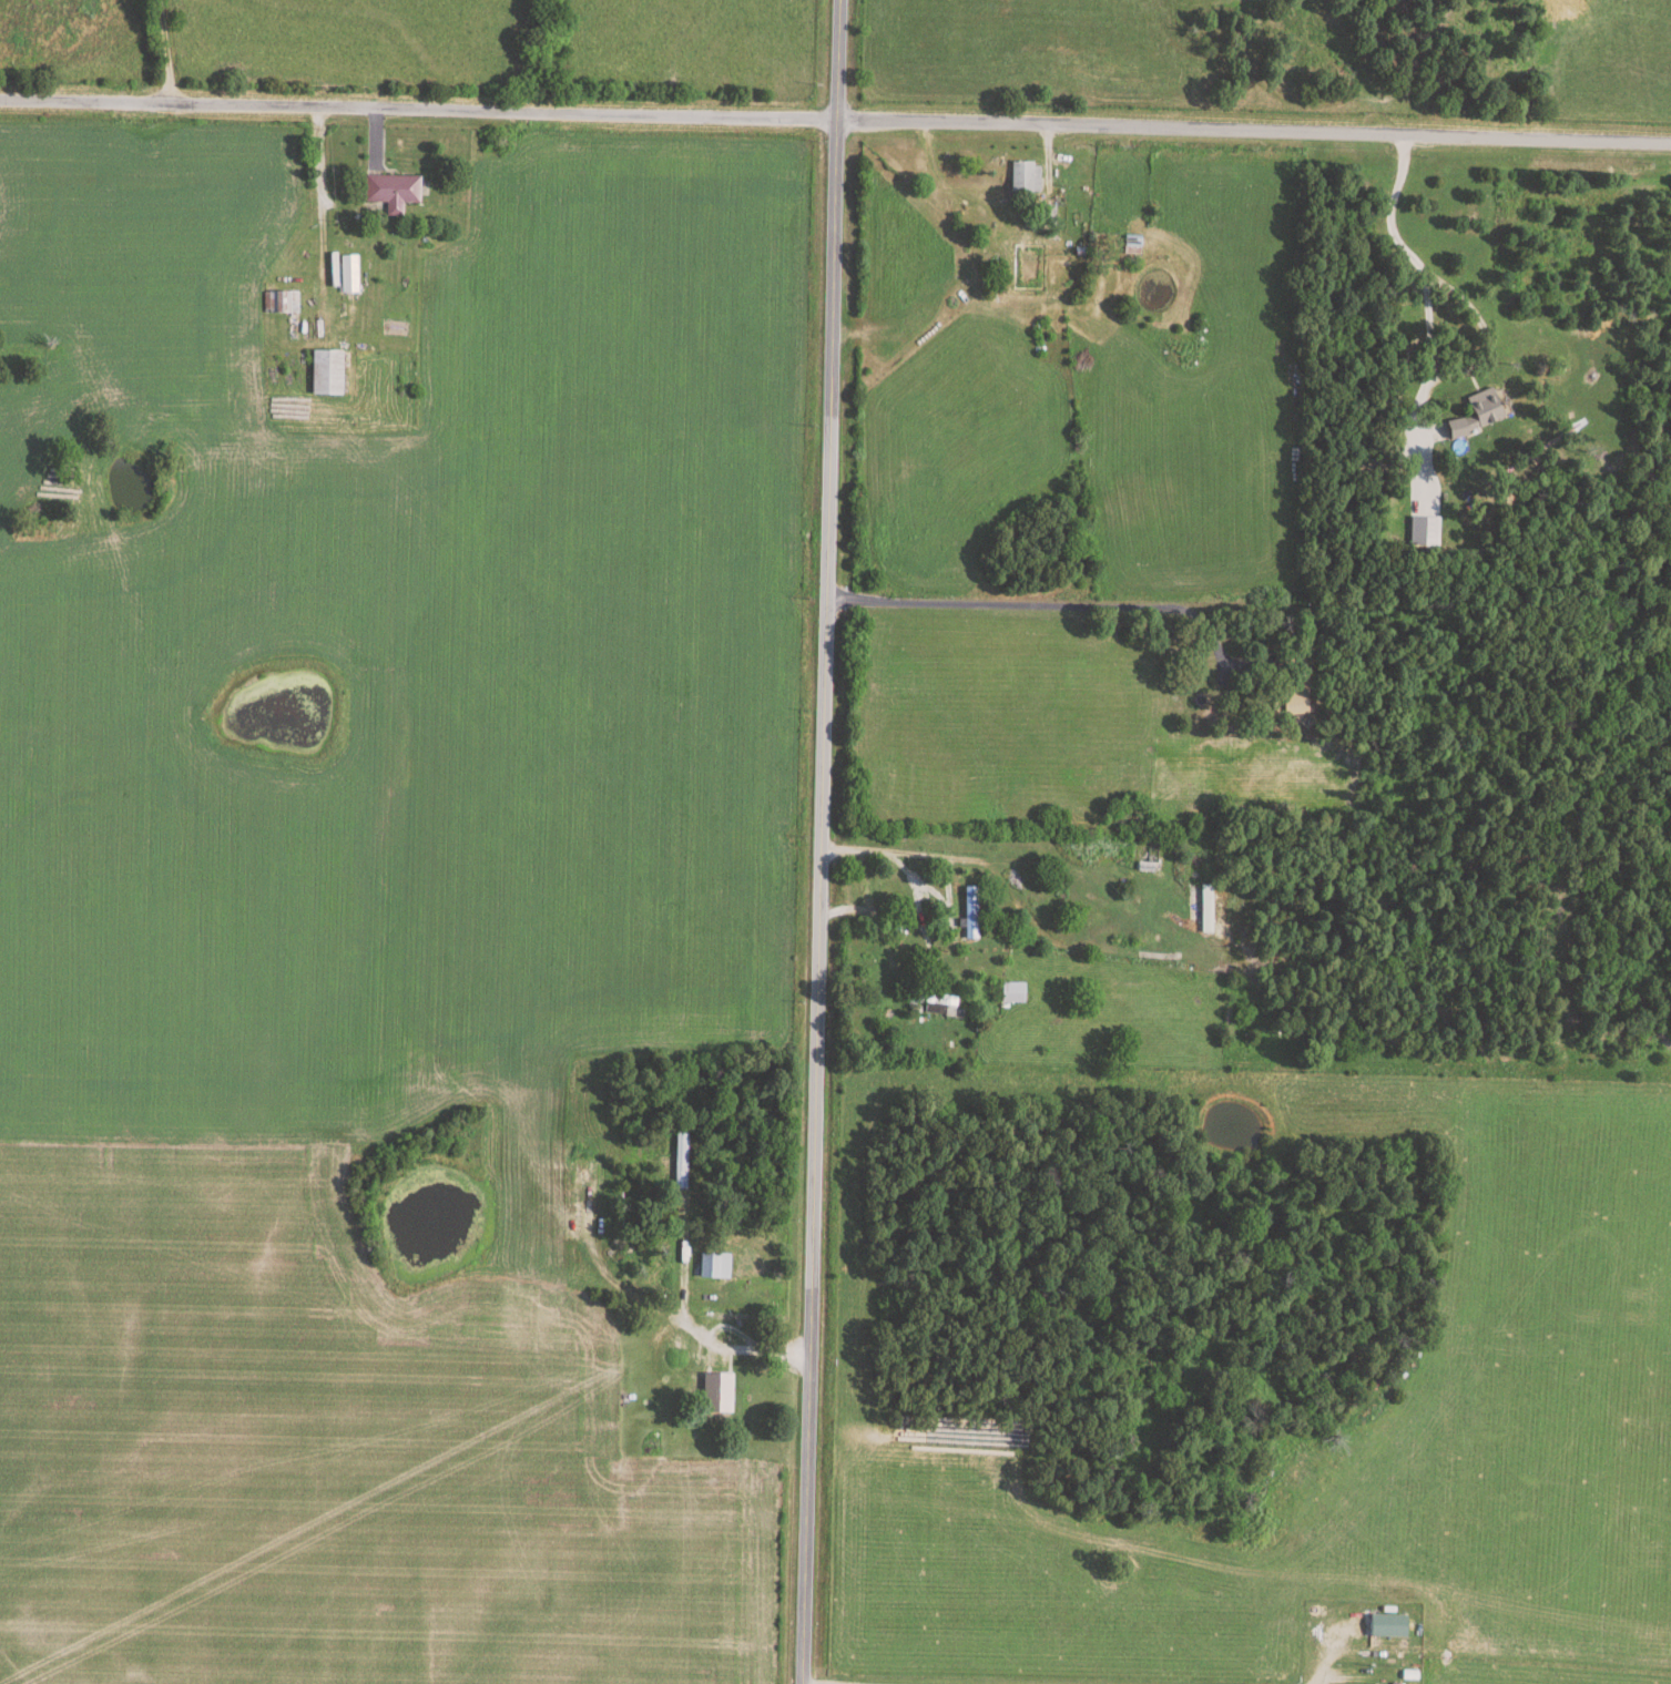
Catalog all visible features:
road: (162, 52)
road: (835, 121)
building: (1023, 176)
building: (391, 190)
building: (1048, 214)
building: (347, 273)
road: (1414, 278)
building: (279, 300)
building: (325, 372)
building: (1477, 414)
building: (1424, 530)
road: (1047, 604)
building: (1293, 696)
road: (818, 841)
road: (1009, 889)
building: (1205, 907)
building: (969, 910)
building: (1011, 990)
building: (935, 1001)
building: (713, 1264)
building: (716, 1391)
building: (1389, 1625)

